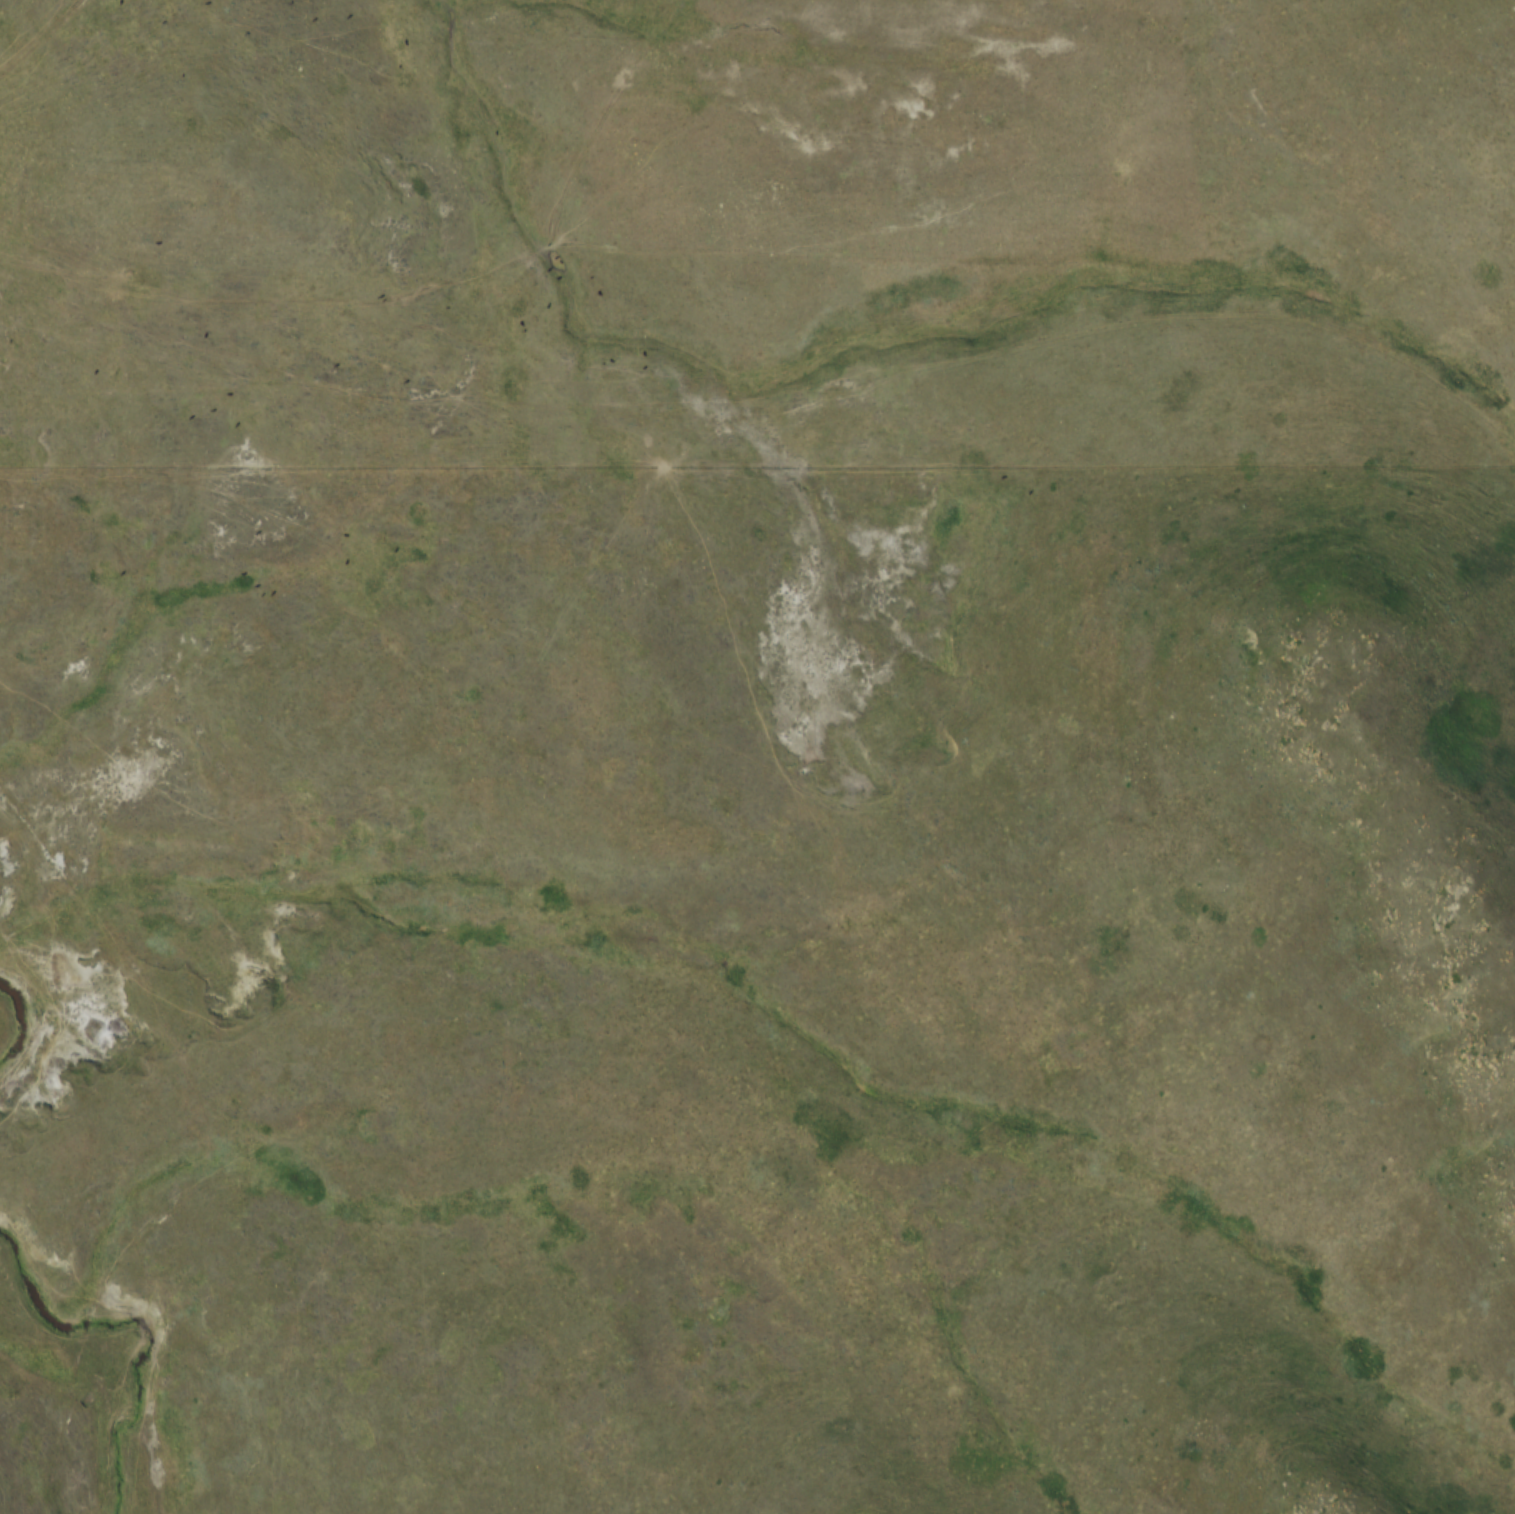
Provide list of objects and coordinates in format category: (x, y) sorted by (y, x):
road: (427, 290)

